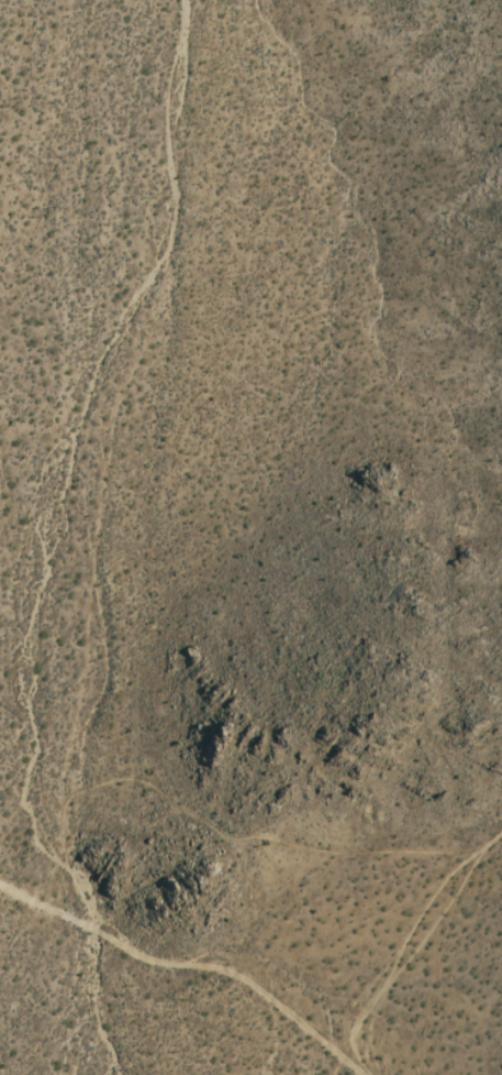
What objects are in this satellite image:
road: (200, 964)

